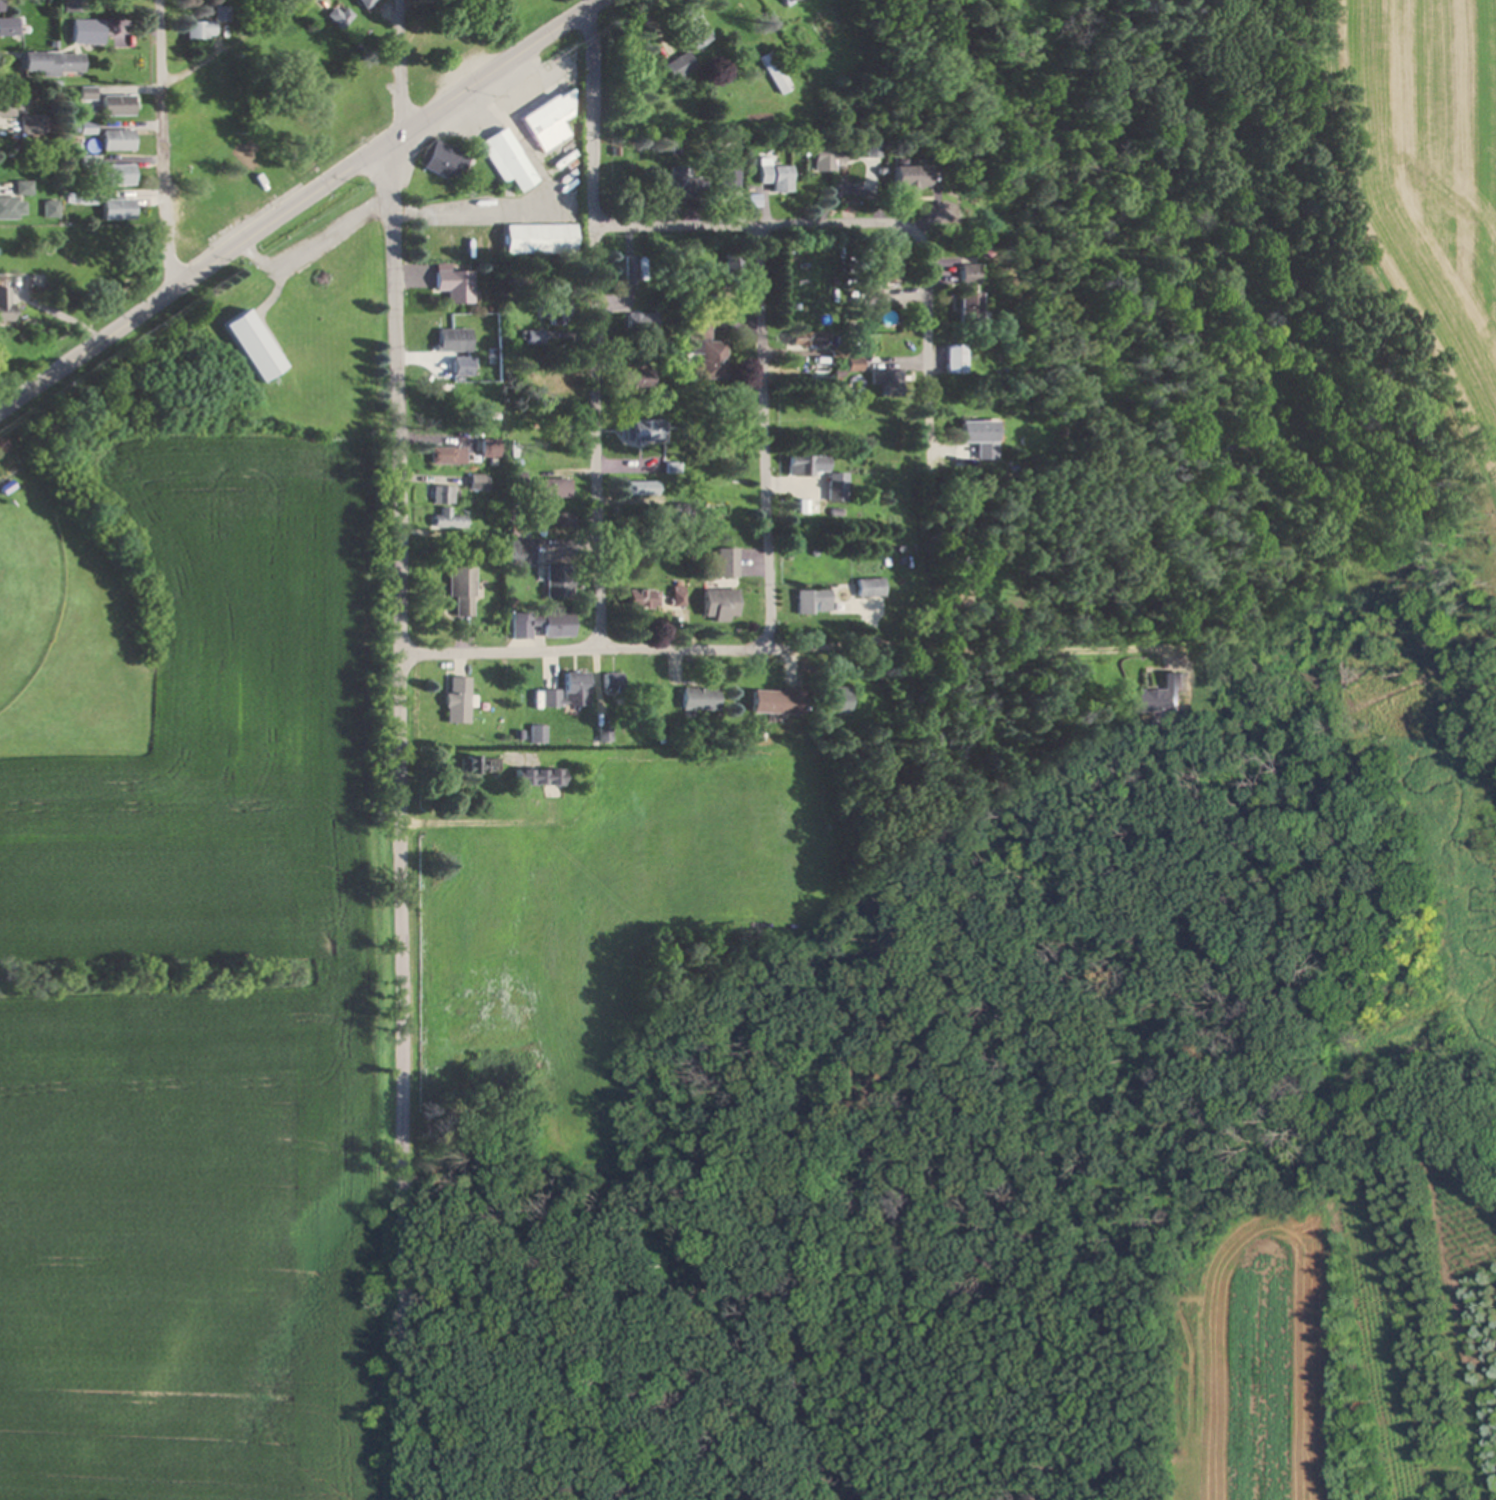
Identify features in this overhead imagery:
building: (781, 1)
building: (363, 2)
building: (71, 6)
building: (338, 17)
building: (690, 26)
building: (7, 28)
building: (198, 30)
building: (84, 32)
road: (223, 46)
building: (48, 63)
building: (678, 66)
building: (774, 72)
road: (395, 77)
building: (513, 102)
building: (8, 106)
building: (115, 106)
building: (356, 106)
building: (547, 122)
road: (588, 123)
building: (30, 126)
building: (115, 141)
road: (410, 145)
road: (156, 151)
building: (827, 159)
building: (506, 160)
building: (443, 161)
building: (116, 175)
building: (728, 175)
building: (773, 176)
building: (906, 178)
building: (195, 182)
building: (677, 182)
building: (245, 196)
building: (14, 201)
building: (117, 210)
road: (812, 222)
building: (537, 239)
building: (734, 266)
building: (883, 268)
building: (630, 270)
building: (966, 274)
building: (453, 283)
building: (314, 285)
building: (4, 303)
building: (965, 305)
building: (644, 323)
road: (921, 337)
building: (805, 338)
building: (451, 339)
building: (251, 345)
building: (704, 348)
road: (104, 356)
building: (953, 358)
building: (853, 363)
building: (638, 378)
building: (885, 382)
road: (399, 405)
building: (643, 430)
road: (594, 435)
building: (976, 435)
road: (761, 436)
road: (1150, 439)
building: (487, 448)
building: (440, 455)
building: (805, 465)
building: (836, 487)
building: (552, 488)
building: (440, 495)
building: (445, 520)
building: (515, 551)
building: (723, 562)
building: (555, 579)
building: (867, 587)
building: (457, 589)
building: (641, 599)
building: (810, 601)
building: (717, 604)
building: (521, 623)
building: (555, 623)
road: (858, 649)
building: (611, 682)
building: (567, 691)
building: (1158, 696)
building: (455, 699)
building: (698, 699)
building: (831, 699)
building: (773, 701)
building: (536, 734)
building: (476, 767)
building: (537, 777)
road: (396, 1077)

